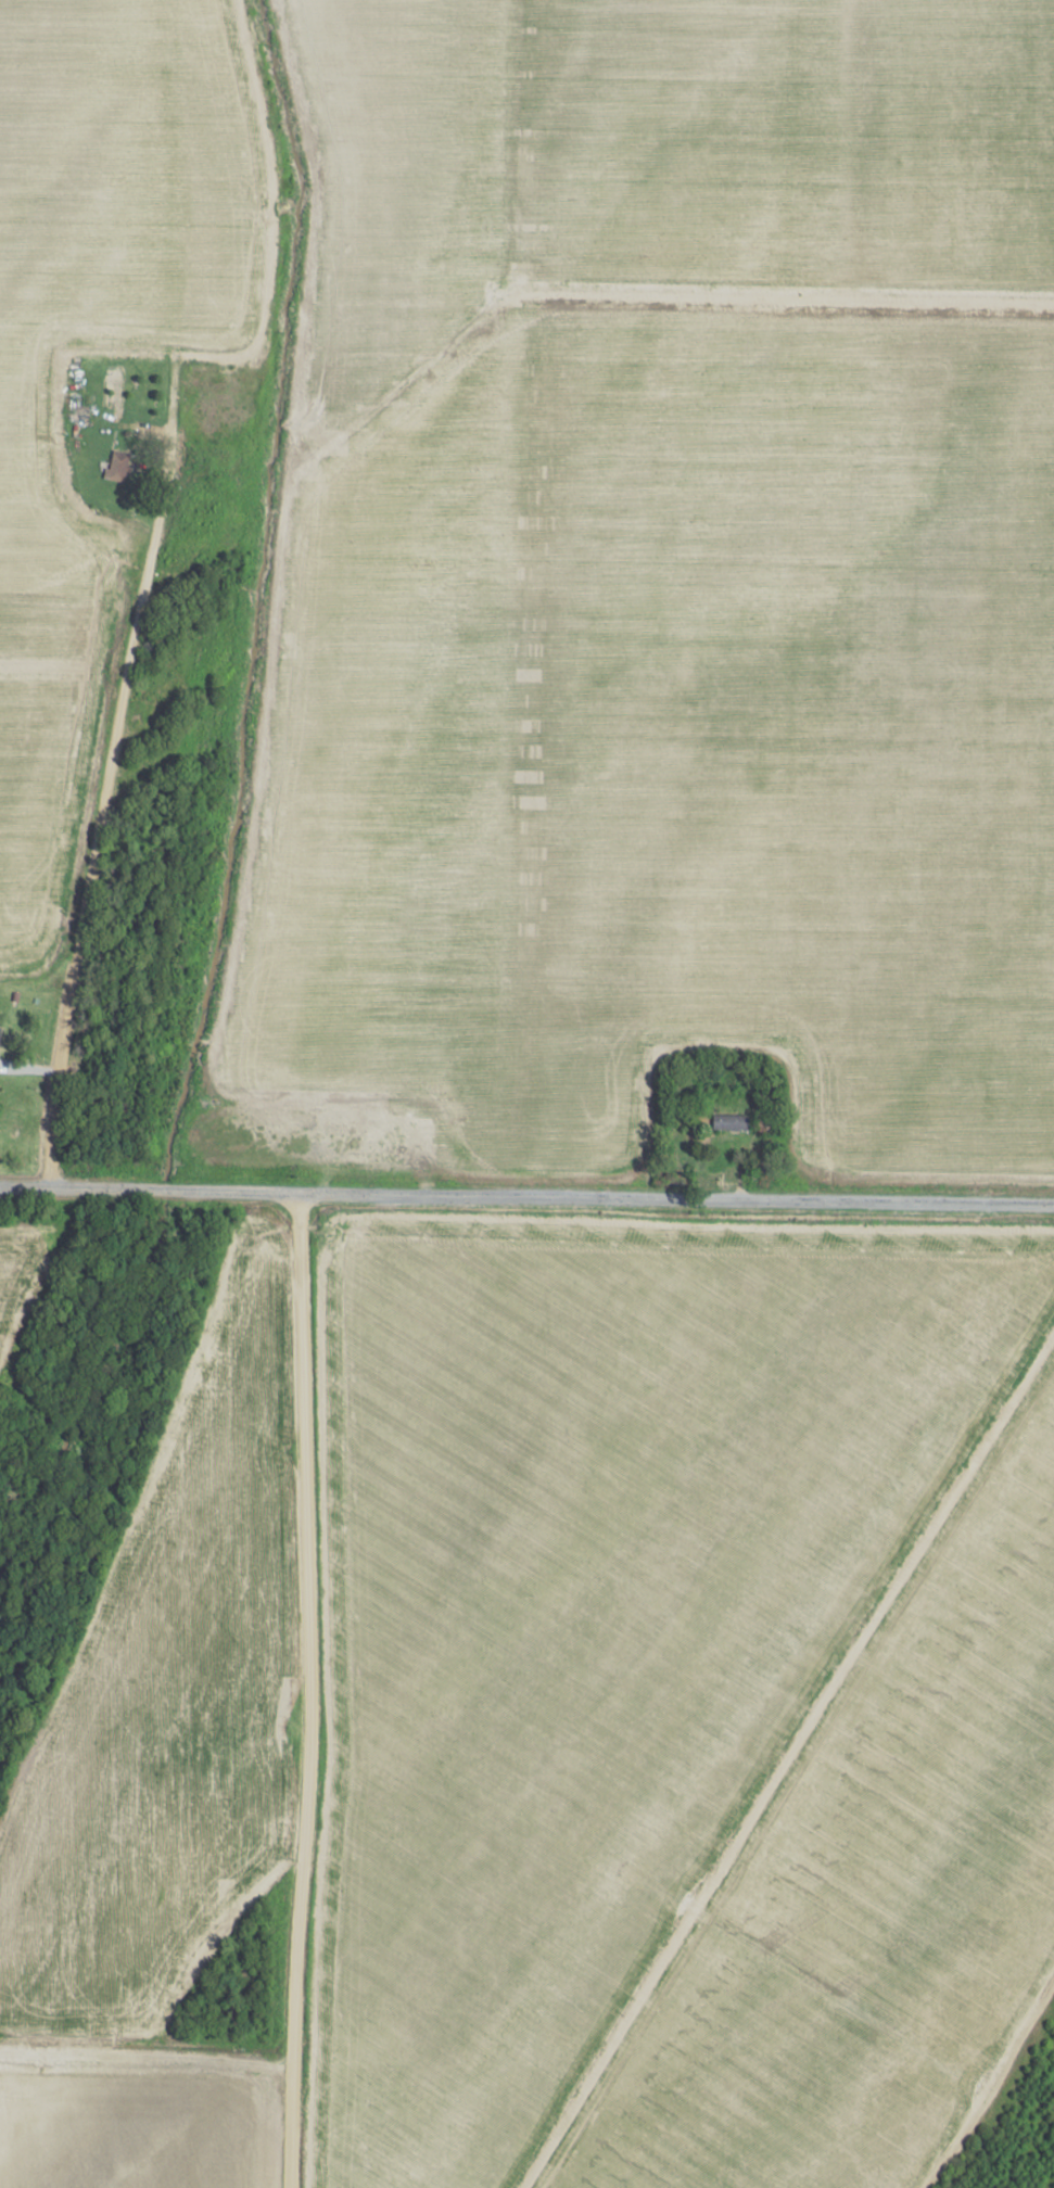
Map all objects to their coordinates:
building: (117, 466)
road: (140, 597)
building: (0, 1029)
building: (729, 1122)
road: (526, 1199)
road: (305, 1691)

